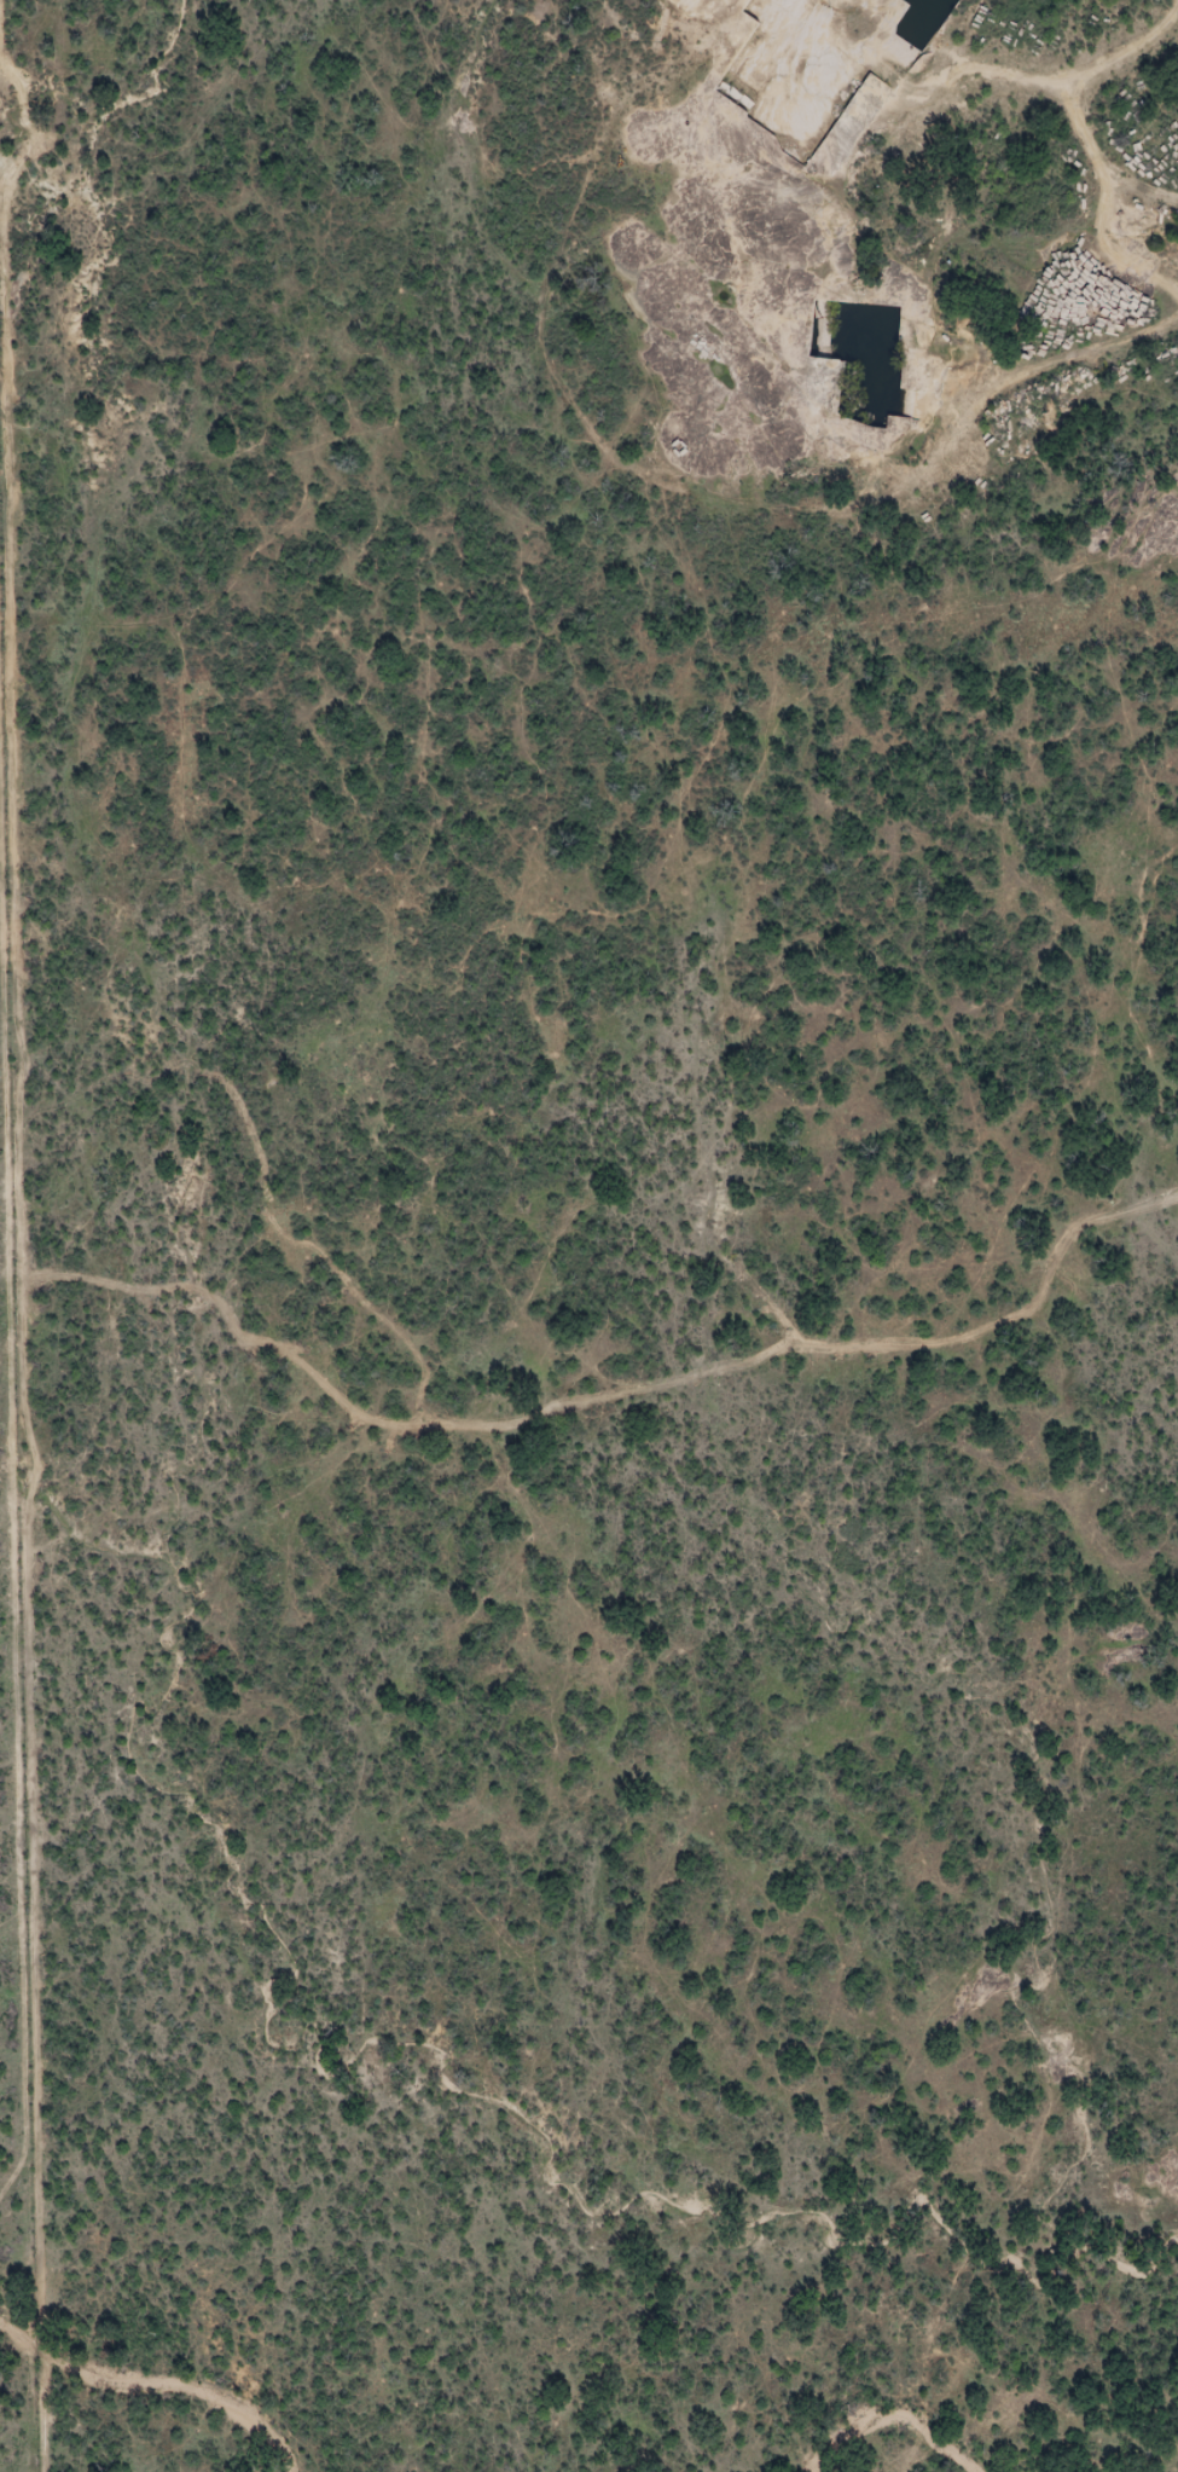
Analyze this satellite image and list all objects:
quarry: (925, 249)

